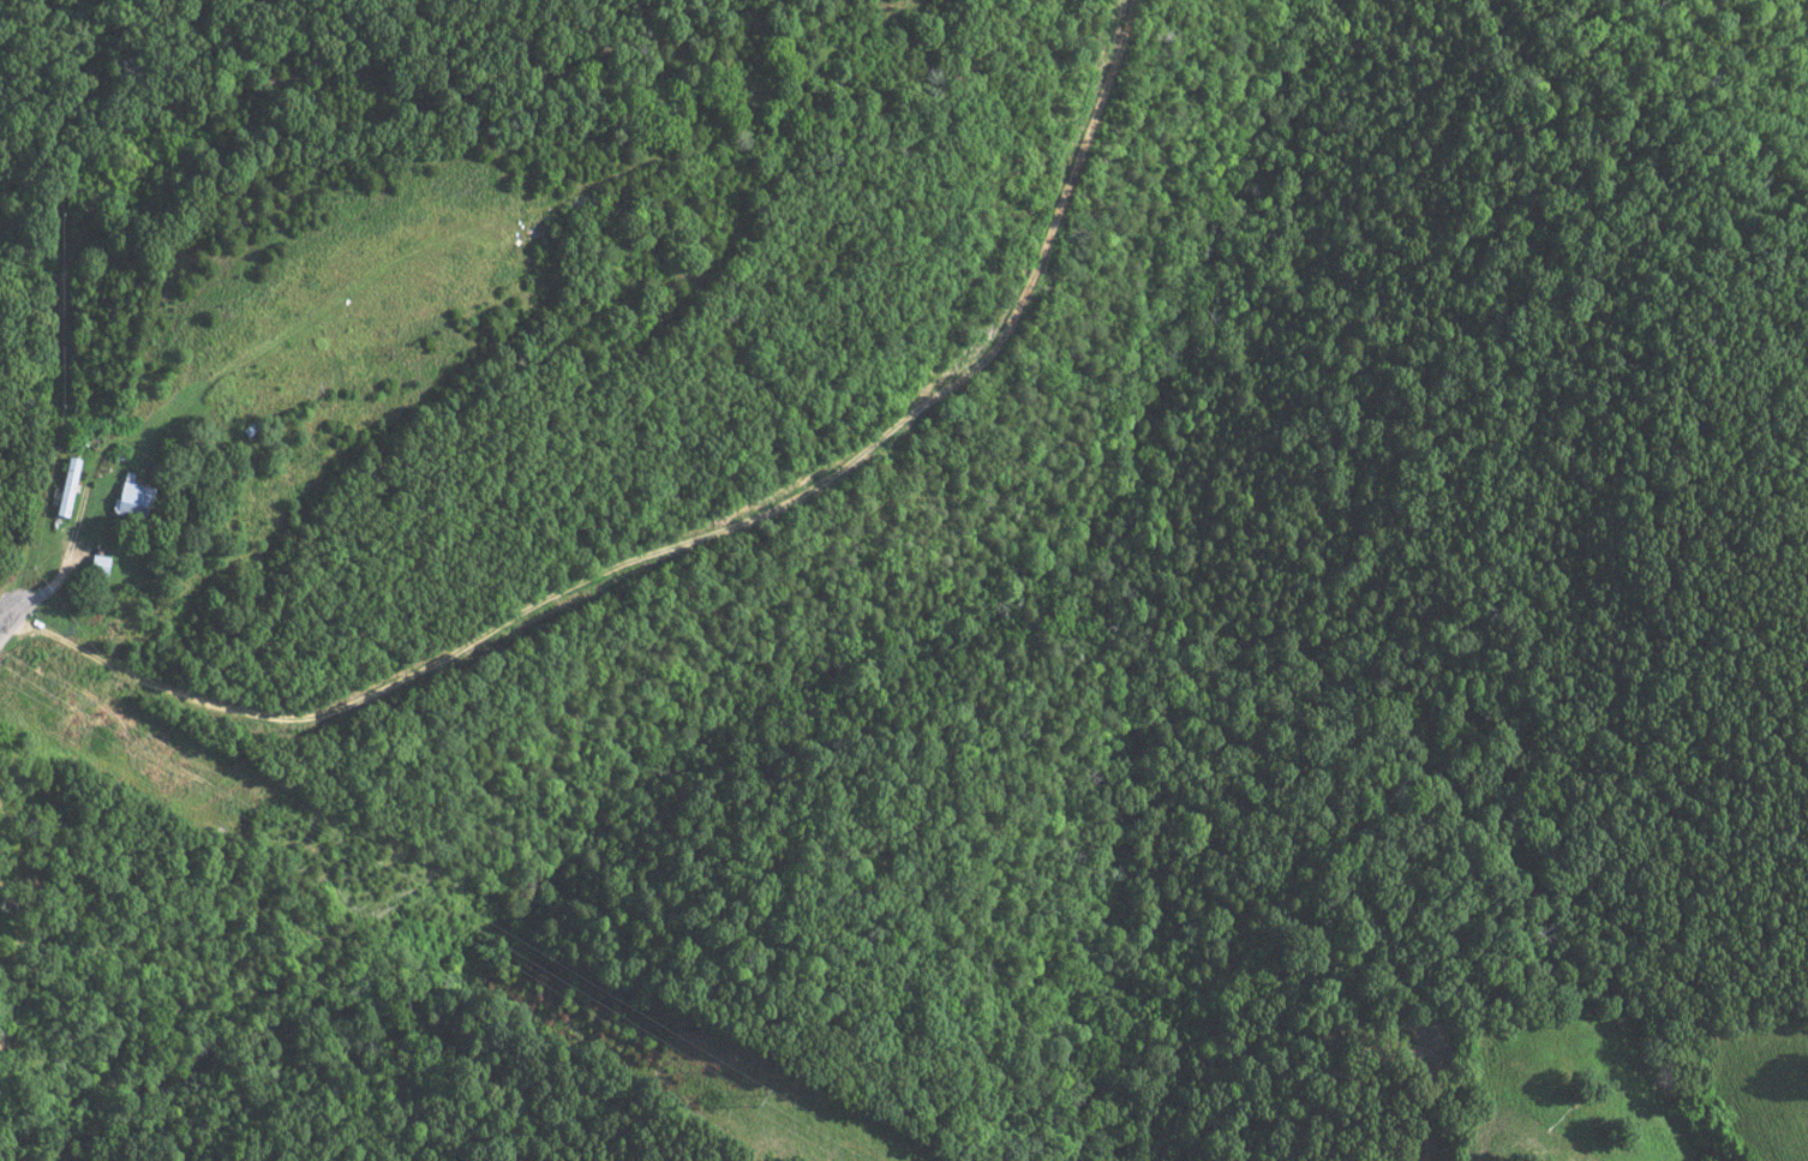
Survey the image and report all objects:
road: (35, 325)
building: (62, 486)
building: (126, 498)
road: (681, 535)
building: (94, 564)
road: (5, 623)
power tower: (755, 1099)

